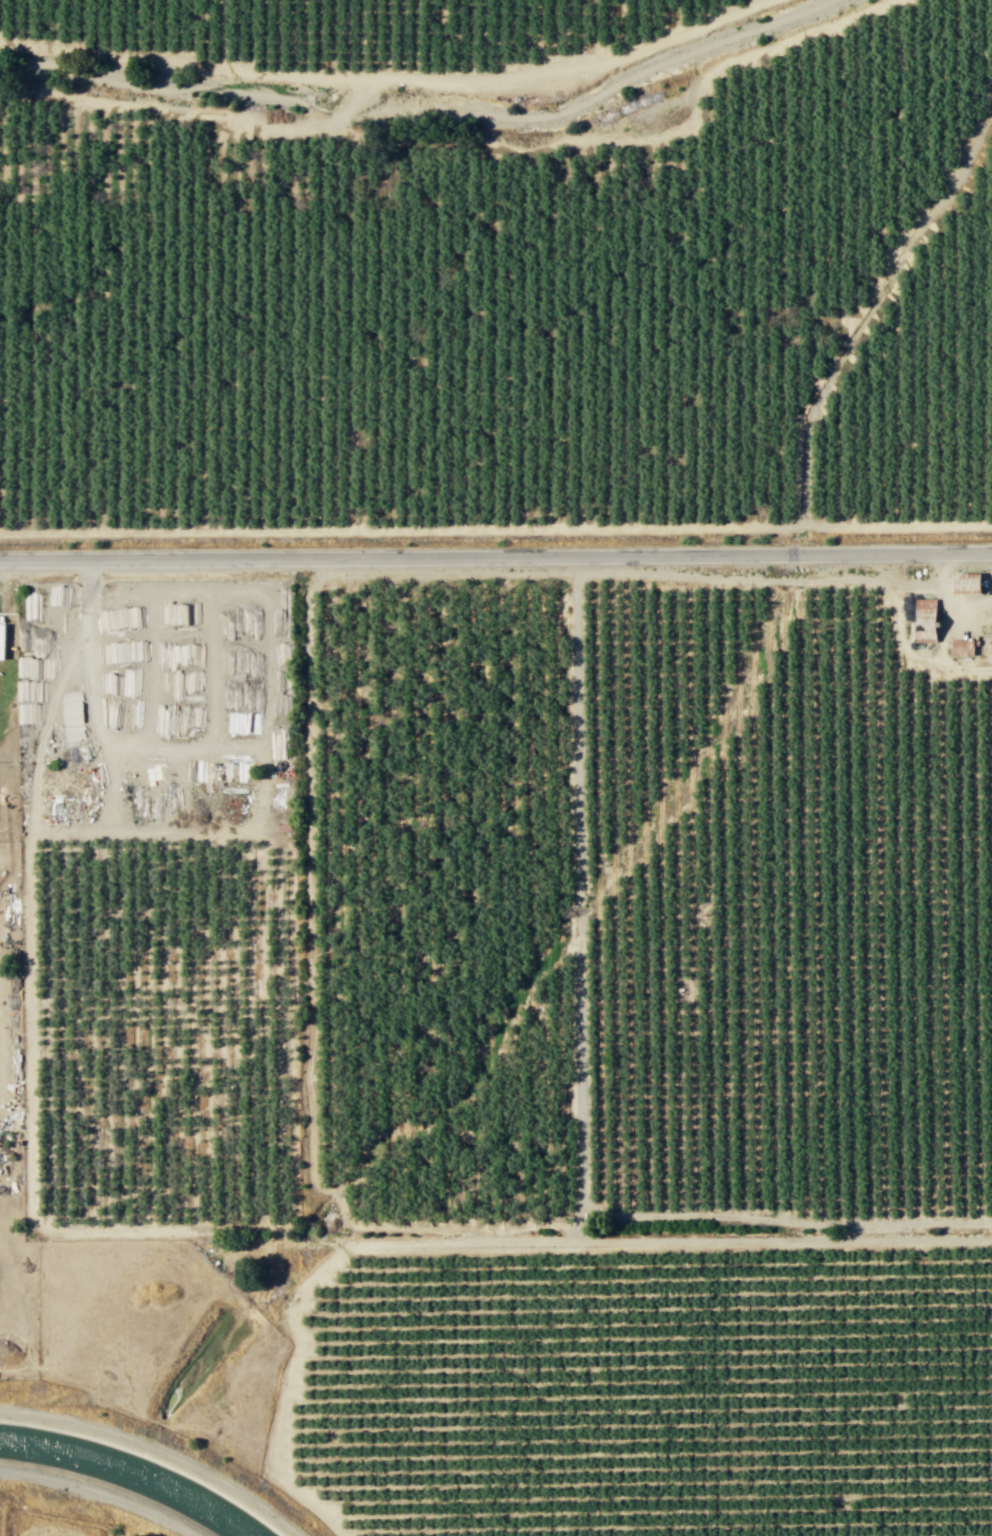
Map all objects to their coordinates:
road: (387, 78)
road: (201, 115)
road: (639, 141)
road: (865, 297)
road: (871, 321)
road: (900, 527)
road: (404, 531)
road: (495, 556)
building: (925, 619)
road: (93, 716)
road: (310, 1011)
road: (580, 1085)
road: (30, 1093)
road: (502, 1240)
road: (99, 1494)

